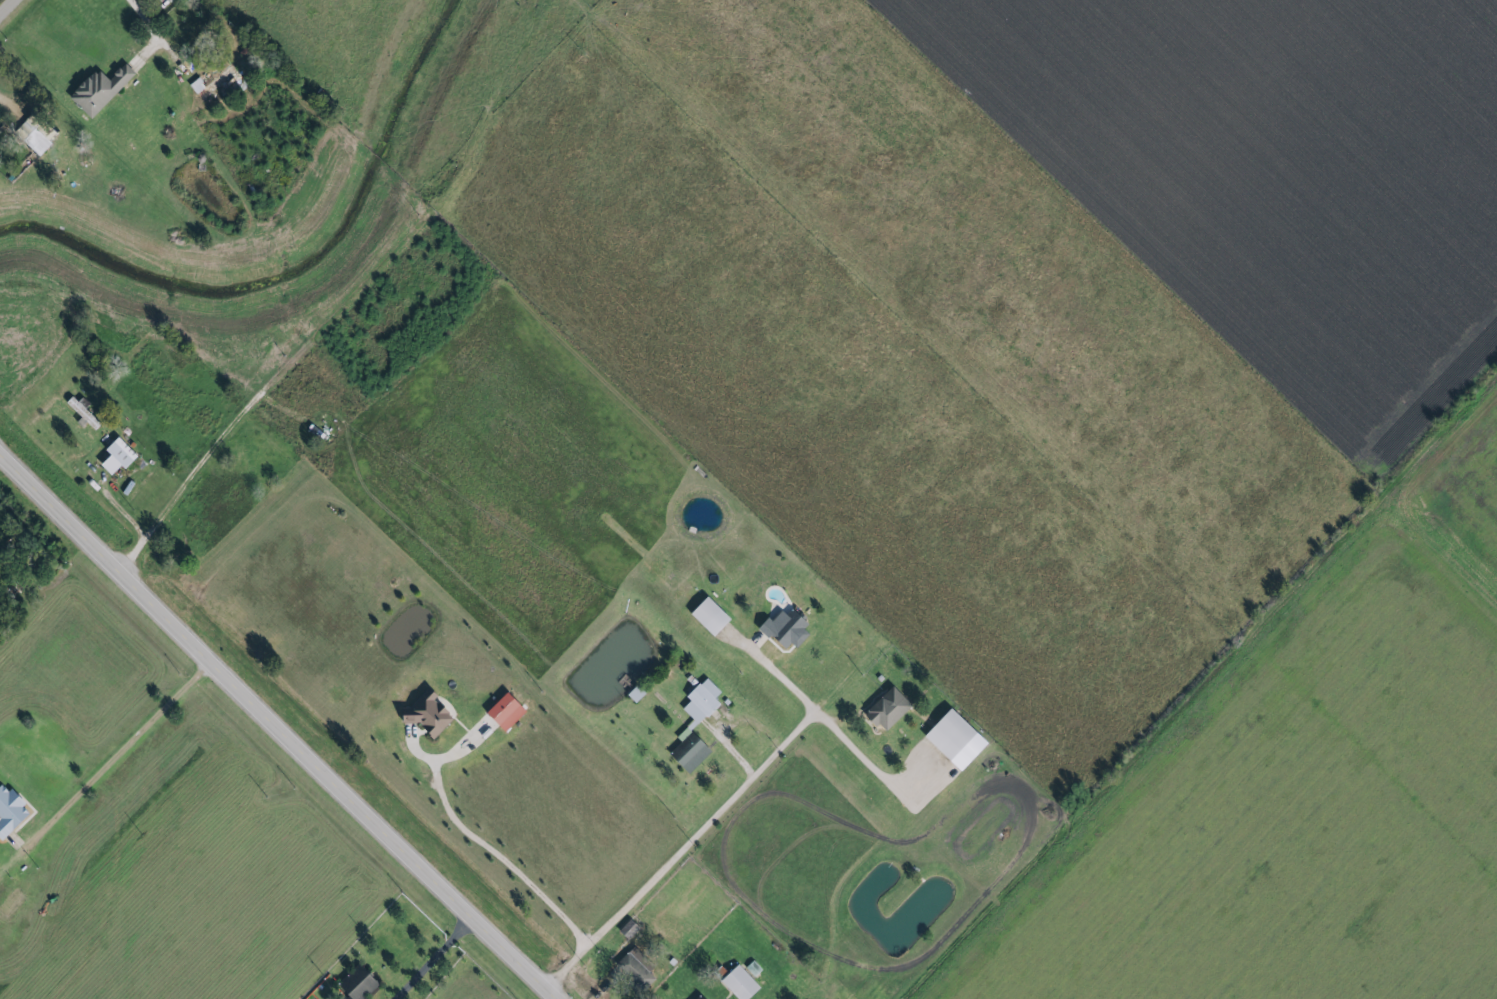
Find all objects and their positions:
building: (166, 0)
road: (7, 8)
road: (149, 33)
building: (224, 78)
building: (202, 86)
building: (96, 90)
building: (114, 457)
road: (198, 469)
road: (128, 525)
building: (706, 617)
building: (782, 630)
building: (884, 710)
building: (502, 713)
building: (424, 715)
road: (822, 719)
building: (692, 726)
road: (280, 728)
building: (946, 735)
road: (122, 751)
building: (12, 811)
road: (490, 850)
road: (682, 850)
building: (625, 929)
road: (437, 958)
building: (634, 970)
building: (736, 983)
building: (354, 984)
building: (695, 997)

